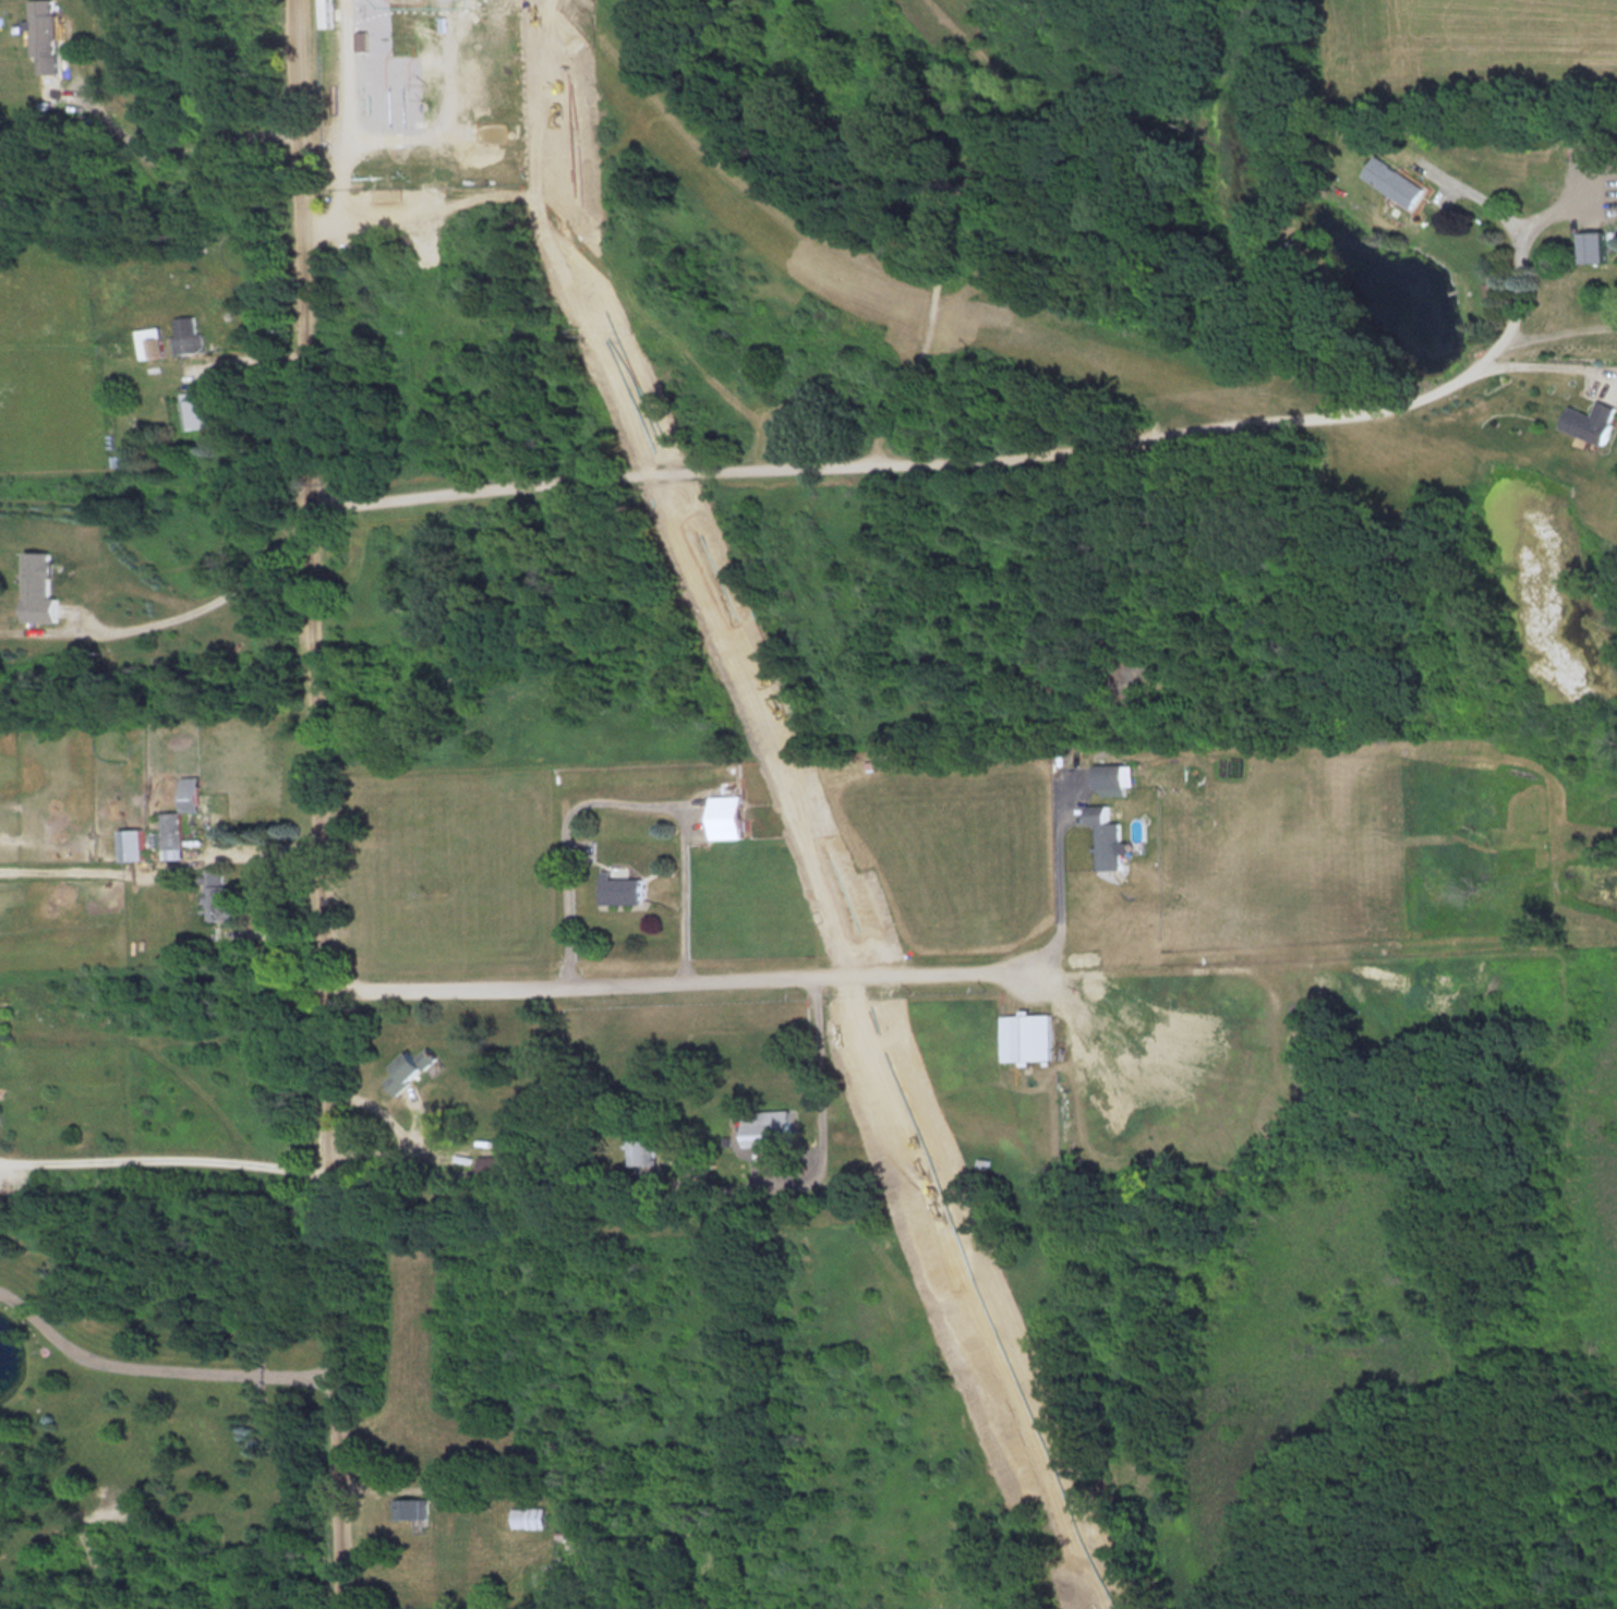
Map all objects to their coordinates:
building: (47, 34)
building: (396, 111)
road: (182, 154)
building: (1398, 180)
road: (1474, 187)
road: (1576, 189)
building: (1596, 245)
road: (937, 293)
road: (1561, 331)
building: (190, 335)
building: (154, 341)
road: (1546, 360)
road: (221, 391)
building: (196, 409)
building: (1594, 420)
road: (975, 455)
building: (41, 586)
road: (241, 586)
building: (1114, 774)
road: (322, 803)
road: (624, 803)
building: (726, 815)
building: (181, 818)
building: (1109, 836)
building: (134, 843)
road: (268, 847)
building: (624, 888)
building: (224, 896)
road: (1059, 906)
road: (663, 973)
building: (1029, 1036)
building: (410, 1069)
road: (819, 1094)
building: (770, 1127)
road: (403, 1136)
building: (643, 1151)
road: (167, 1157)
building: (495, 1168)
road: (155, 1364)
building: (409, 1508)
building: (535, 1516)

